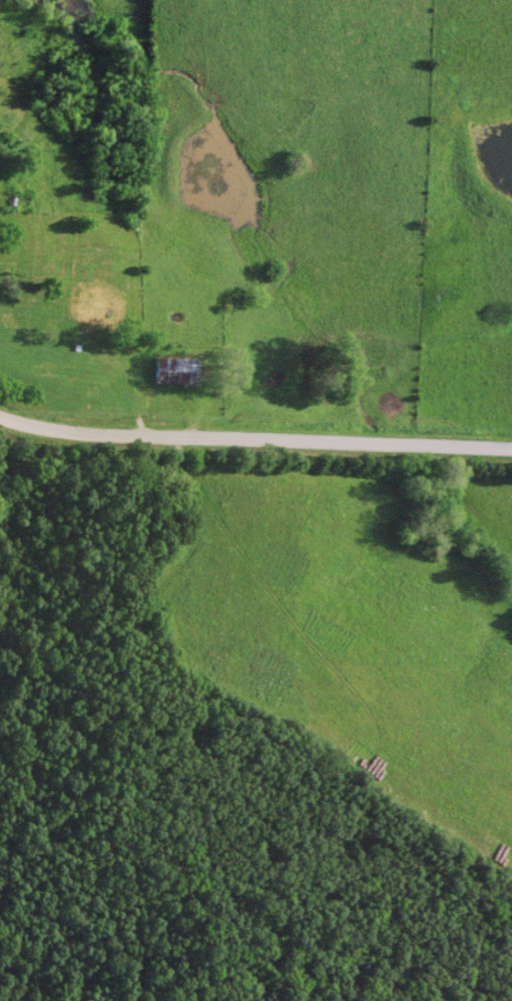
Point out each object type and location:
building: (135, 365)
building: (107, 366)
building: (56, 370)
building: (175, 370)
road: (254, 440)

